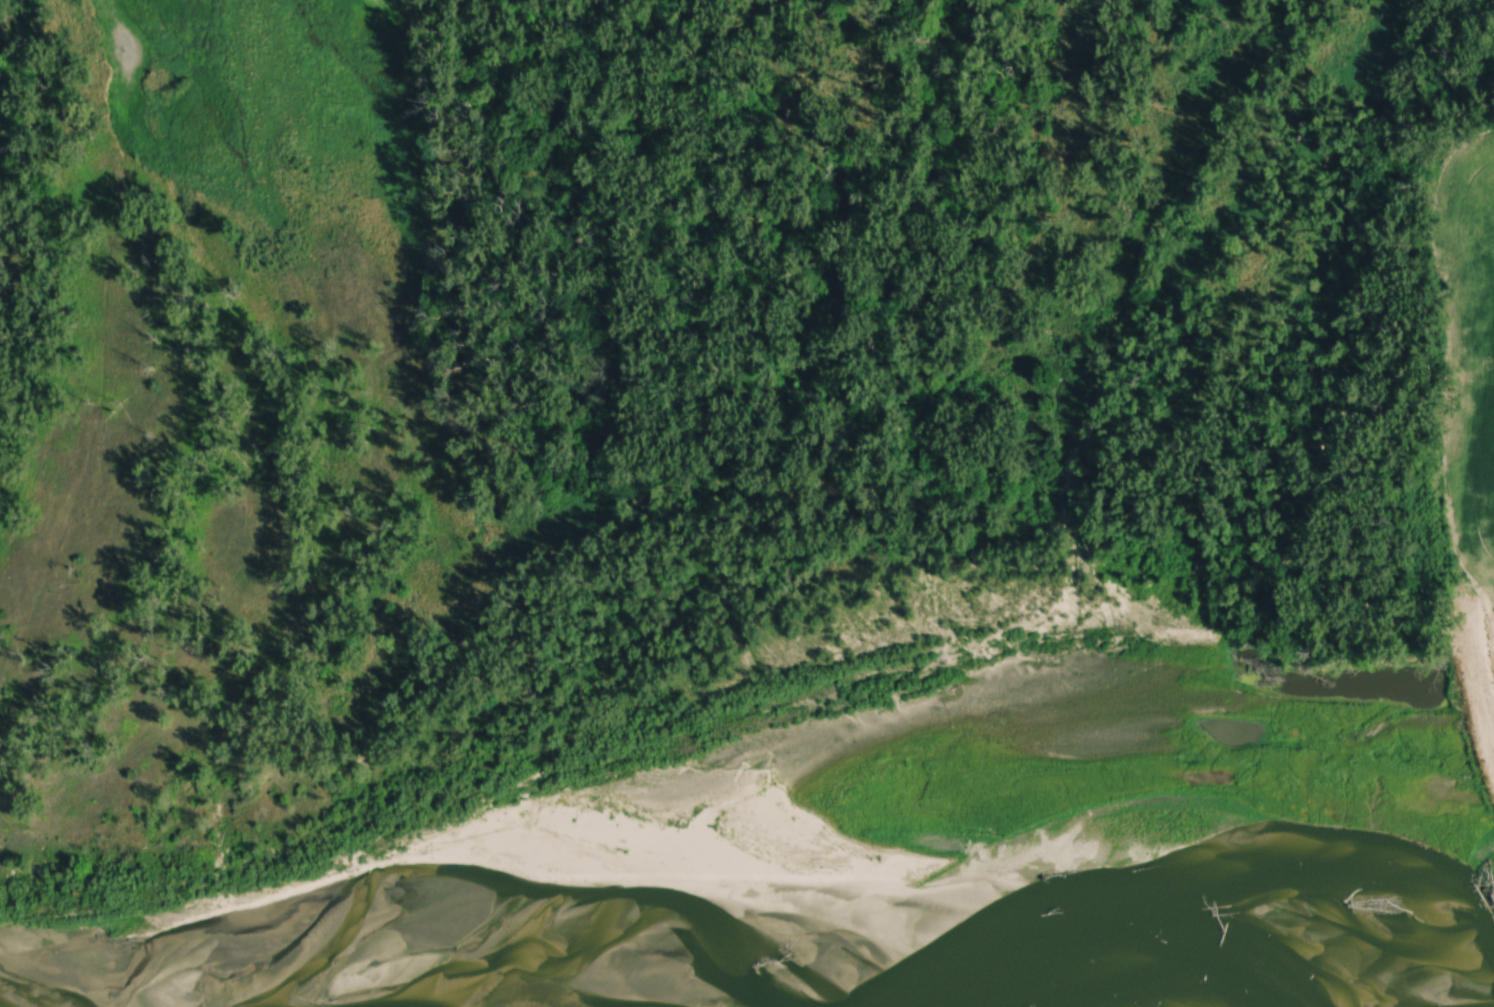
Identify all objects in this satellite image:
river: (694, 781)

